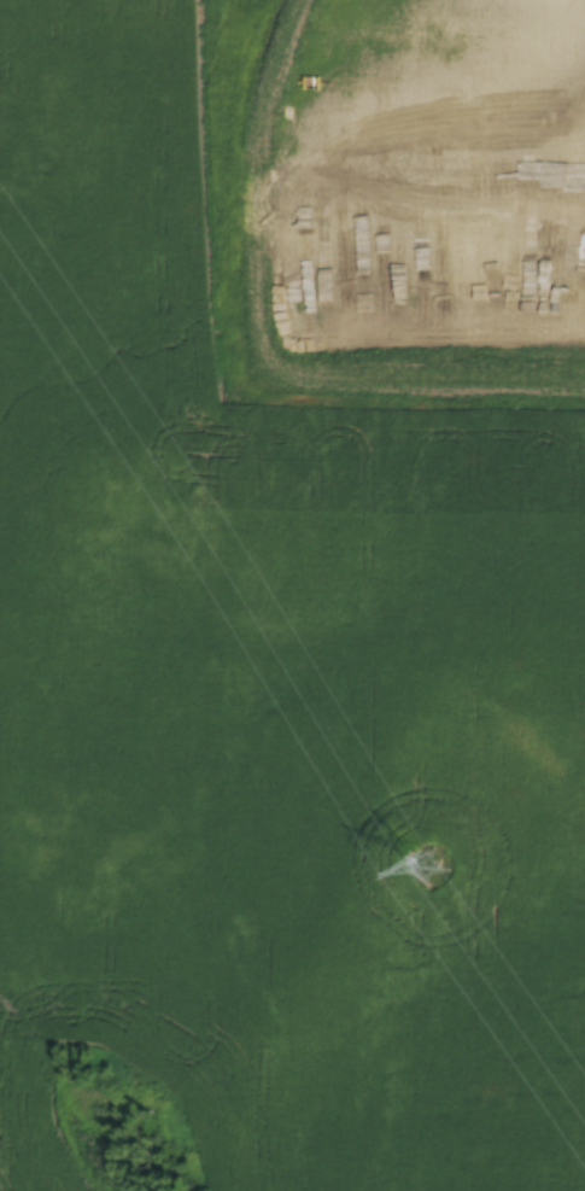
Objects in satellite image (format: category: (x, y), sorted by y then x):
power tower: (428, 869)

